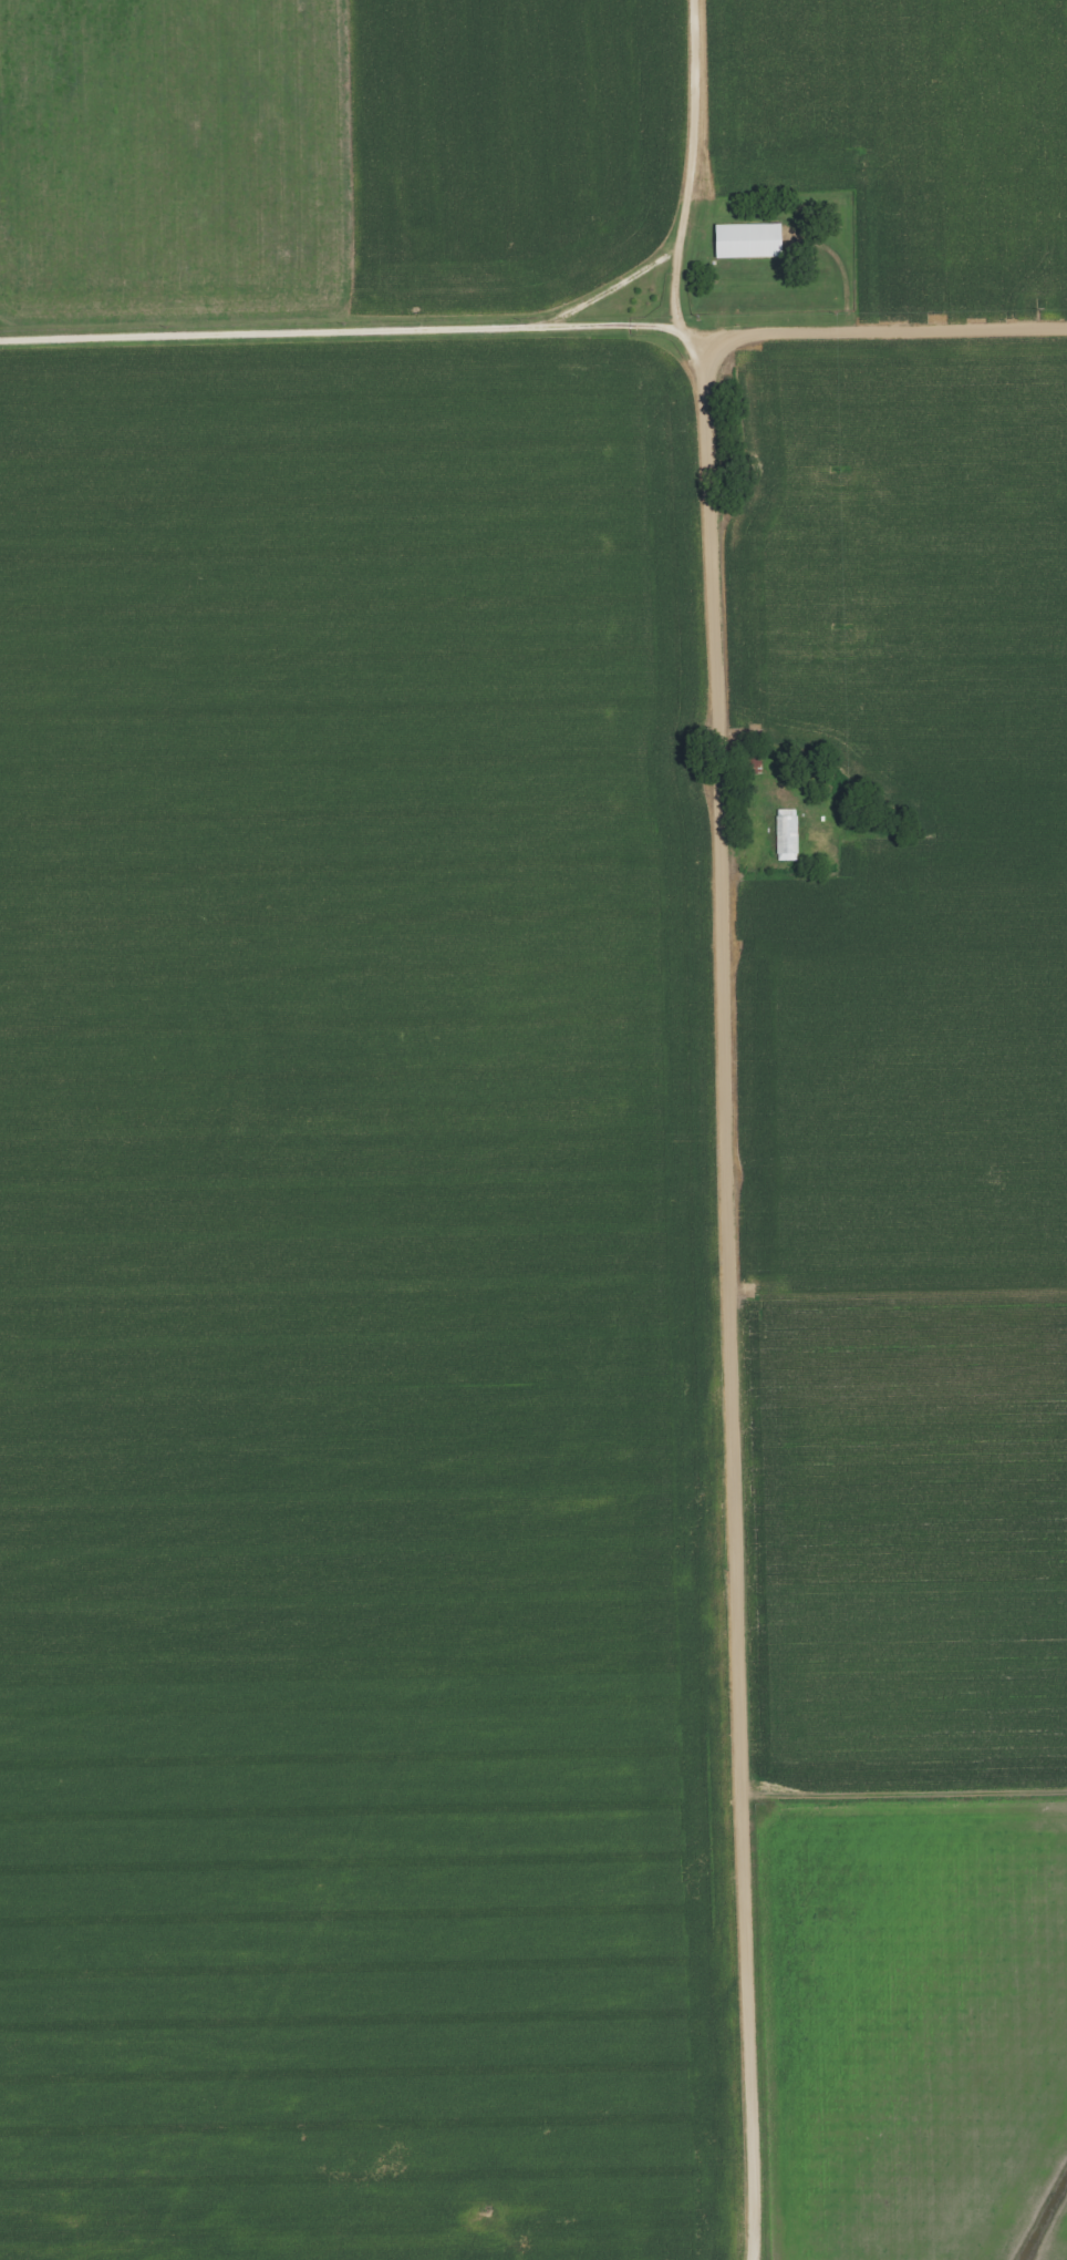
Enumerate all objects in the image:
road: (693, 160)
road: (474, 320)
road: (111, 328)
building: (750, 764)
building: (784, 835)
road: (729, 1122)
petroleum well: (476, 2213)

